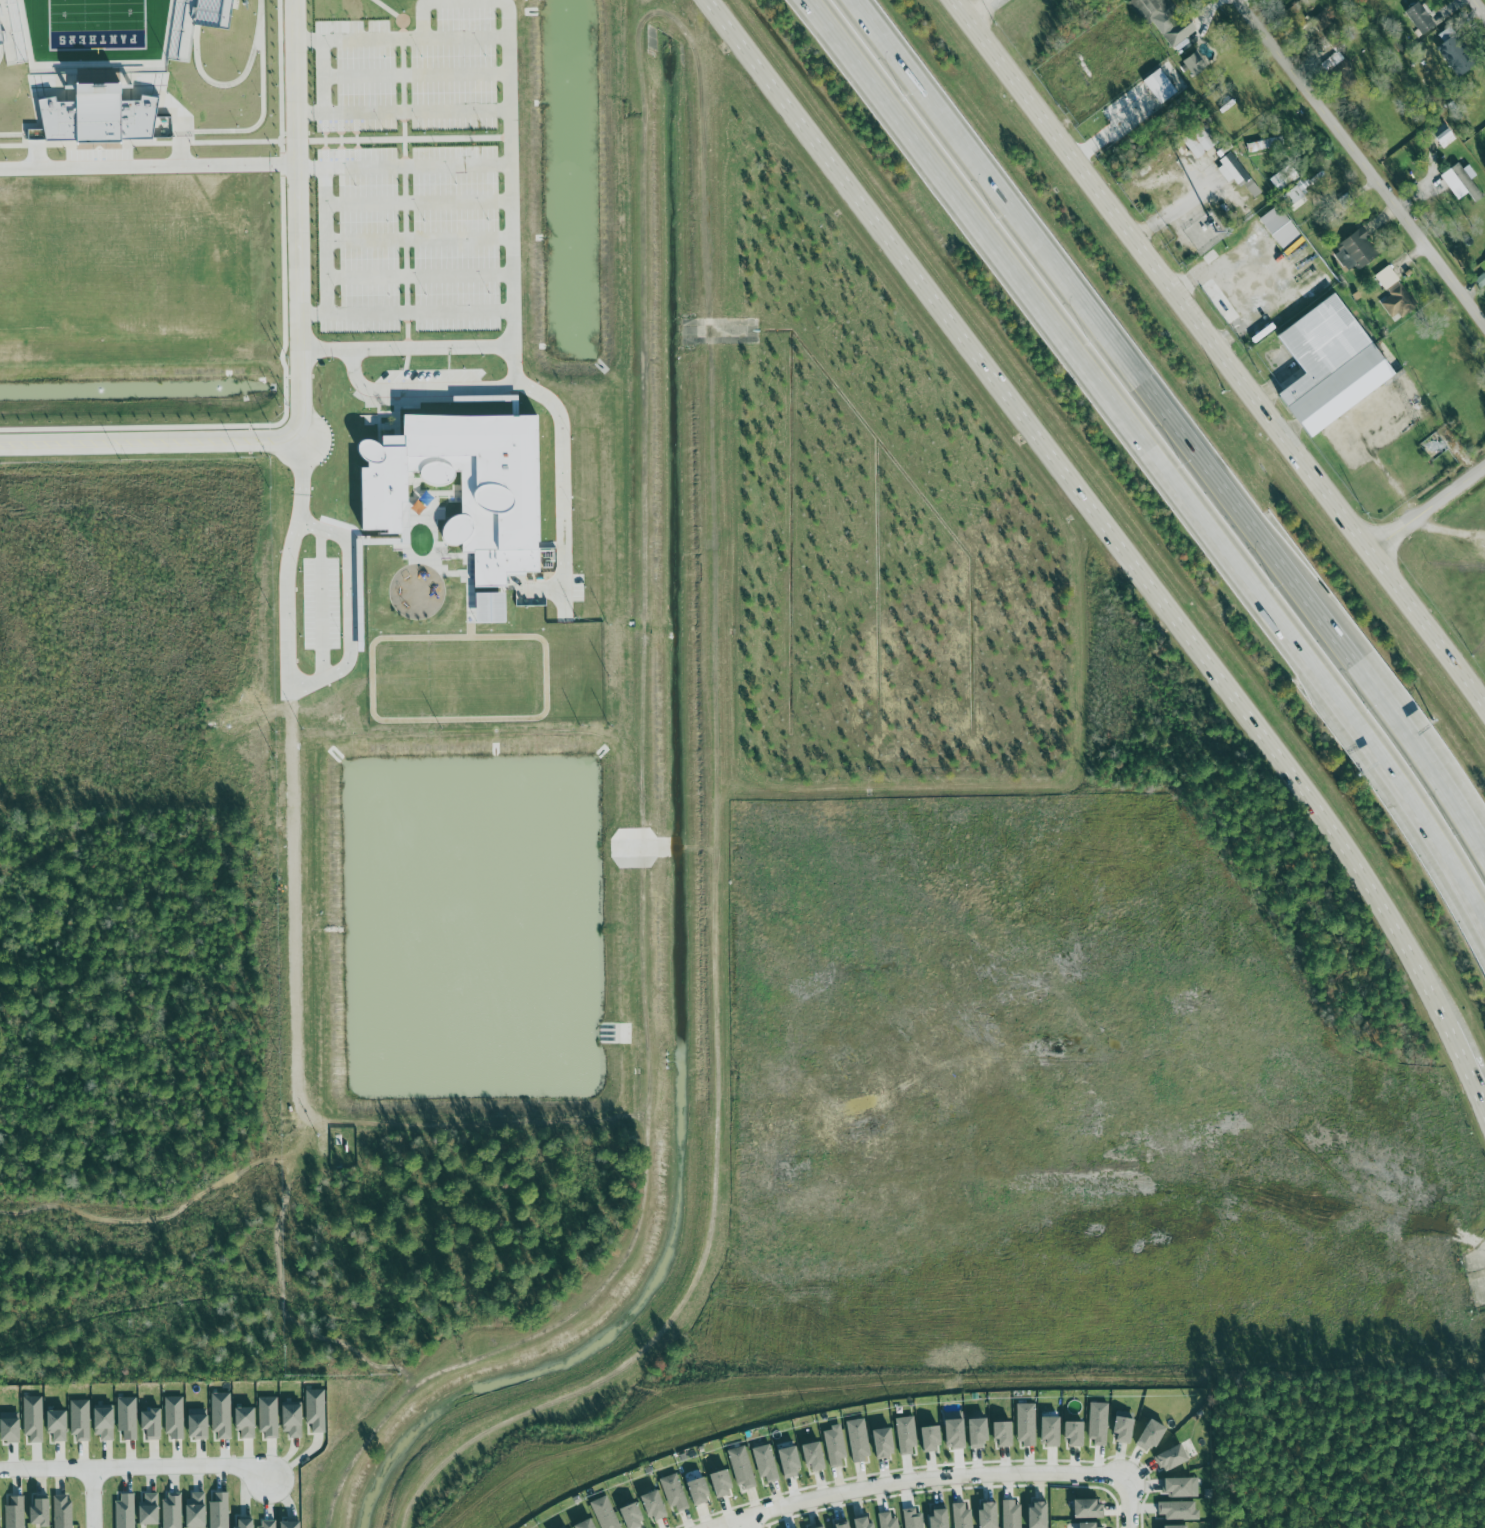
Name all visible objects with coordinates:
road: (1483, 1)
road: (984, 11)
building: (225, 12)
building: (1166, 19)
building: (1421, 19)
building: (1322, 22)
park: (95, 24)
building: (12, 37)
building: (1455, 54)
building: (1196, 65)
stadium: (132, 68)
road: (320, 76)
building: (1162, 87)
road: (401, 112)
building: (100, 115)
building: (1448, 137)
building: (1260, 145)
road: (1365, 158)
road: (402, 166)
road: (147, 167)
parking lot: (407, 174)
building: (1238, 174)
building: (1280, 179)
building: (1462, 182)
road: (510, 190)
building: (1299, 193)
road: (296, 221)
building: (1281, 226)
road: (323, 241)
building: (1357, 251)
building: (1395, 294)
road: (406, 313)
road: (1223, 344)
building: (1334, 363)
road: (1172, 421)
road: (151, 444)
road: (1142, 464)
building: (464, 486)
road: (1093, 505)
road: (1434, 510)
building: (493, 608)
road: (1467, 1069)
road: (1478, 1255)
road: (1478, 1259)
road: (1474, 1275)
road: (1481, 1288)
road: (1481, 1289)
building: (316, 1410)
building: (221, 1415)
building: (269, 1417)
building: (33, 1418)
building: (128, 1418)
building: (174, 1418)
building: (80, 1420)
building: (294, 1420)
building: (246, 1422)
building: (105, 1424)
building: (153, 1424)
building: (198, 1424)
building: (1027, 1424)
building: (1099, 1424)
building: (58, 1426)
building: (11, 1427)
building: (956, 1429)
building: (1125, 1429)
building: (1052, 1431)
building: (980, 1433)
building: (1076, 1434)
building: (1006, 1435)
building: (1153, 1435)
building: (907, 1436)
building: (933, 1439)
building: (859, 1440)
building: (885, 1443)
building: (836, 1447)
building: (816, 1456)
building: (1173, 1459)
building: (792, 1462)
building: (767, 1464)
road: (135, 1466)
building: (743, 1468)
road: (914, 1478)
building: (723, 1483)
building: (1183, 1488)
building: (700, 1491)
building: (675, 1493)
road: (93, 1497)
road: (1128, 1501)
building: (656, 1505)
building: (1089, 1509)
building: (149, 1510)
building: (172, 1510)
building: (197, 1510)
building: (125, 1511)
building: (220, 1511)
building: (1179, 1511)
building: (63, 1512)
building: (15, 1513)
building: (41, 1513)
building: (991, 1515)
building: (1012, 1515)
building: (963, 1516)
building: (1041, 1516)
building: (634, 1517)
building: (1, 1518)
building: (914, 1519)
building: (888, 1520)
road: (748, 1521)
building: (865, 1523)
building: (267, 1524)
building: (292, 1525)
building: (844, 1526)
building: (1093, 1526)
building: (827, 1527)
building: (1174, 1527)

